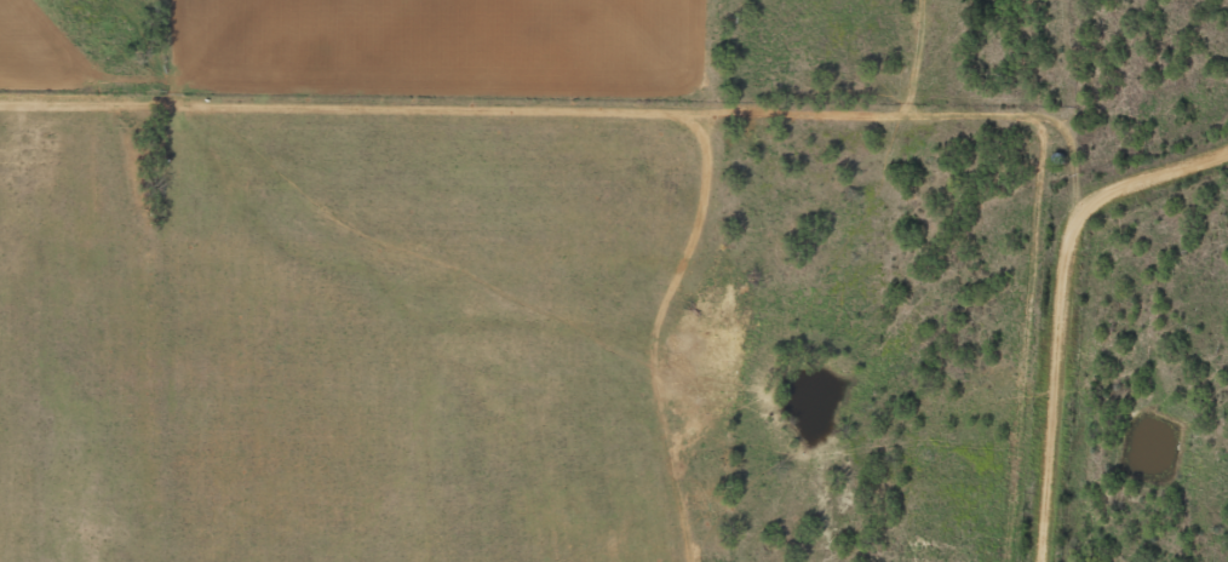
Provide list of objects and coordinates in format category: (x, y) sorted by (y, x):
road: (1060, 304)

